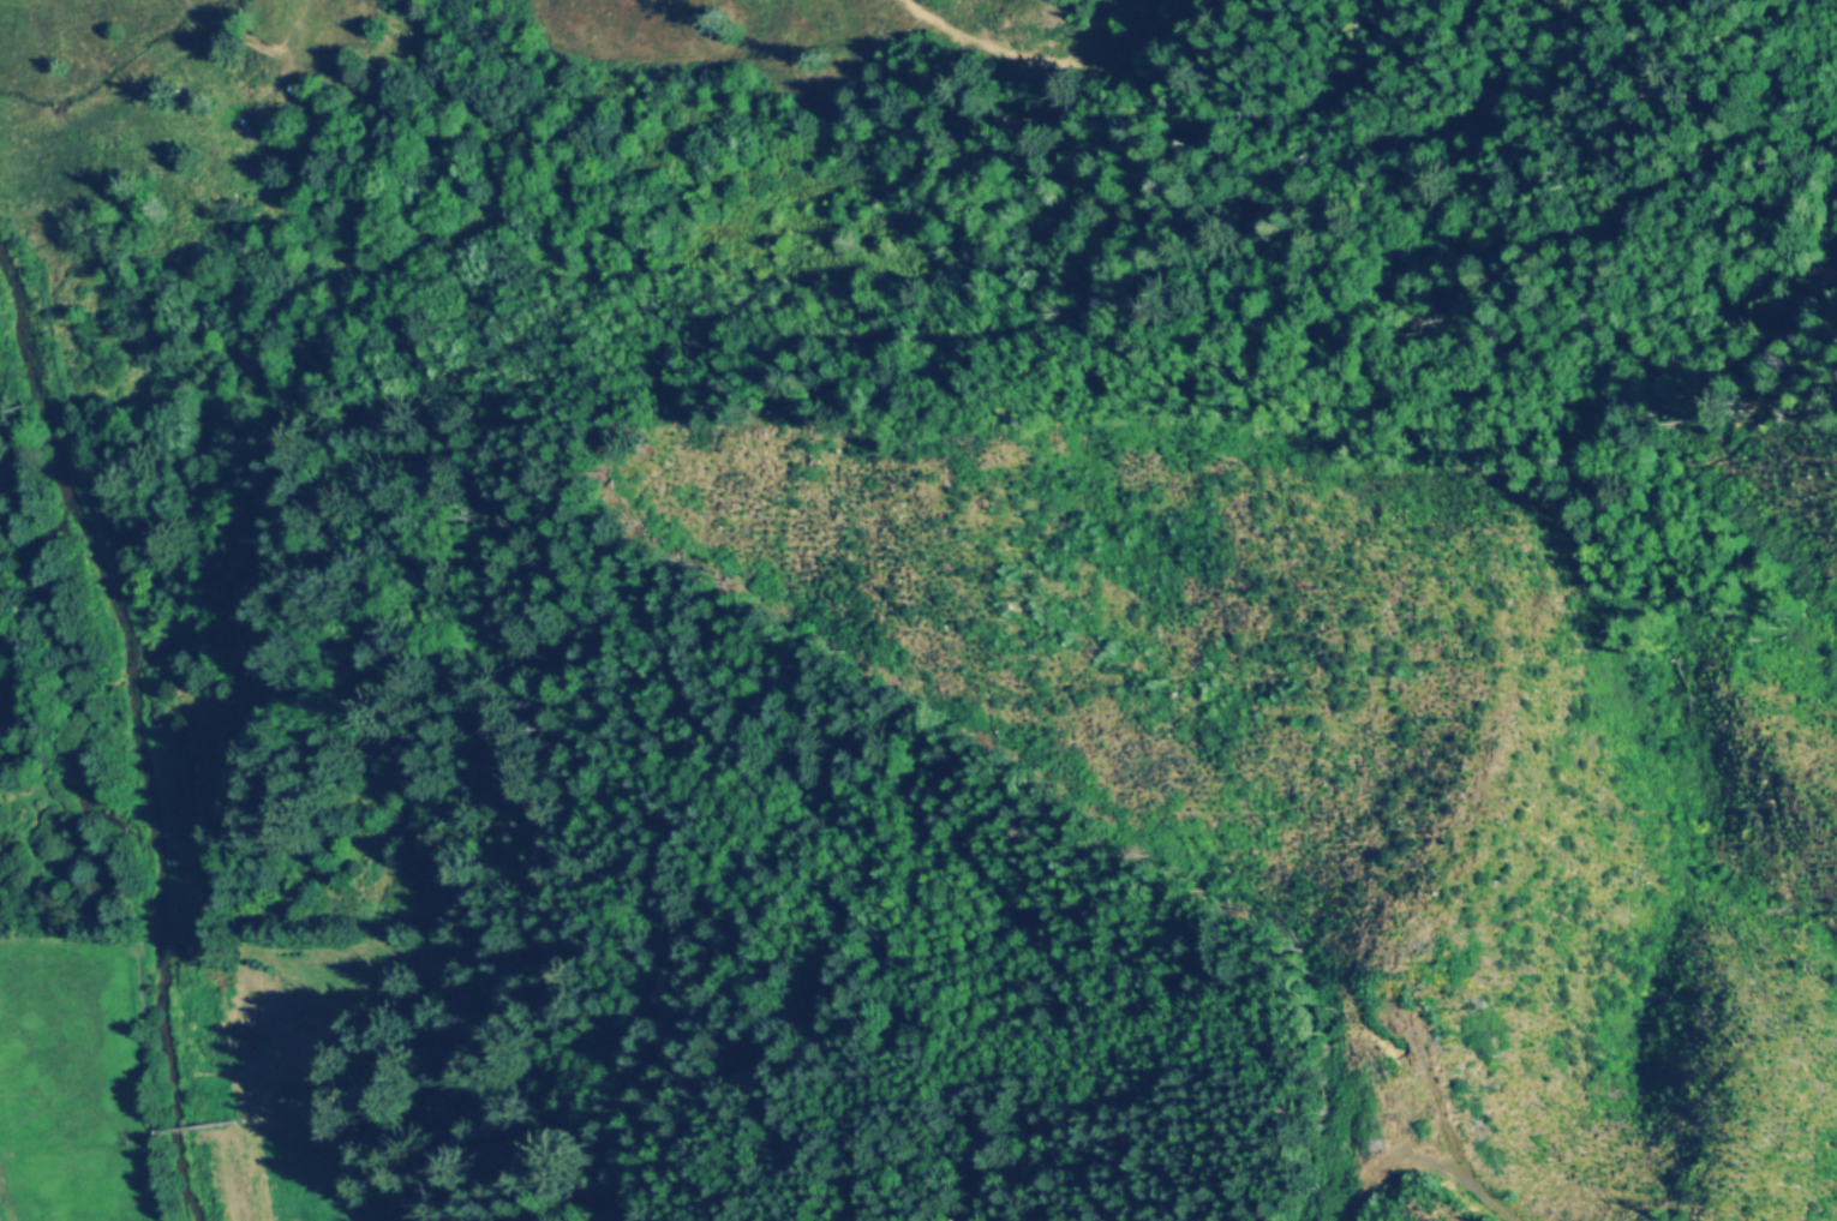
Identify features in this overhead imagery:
road: (1728, 145)
river: (143, 734)
road: (1425, 1161)

